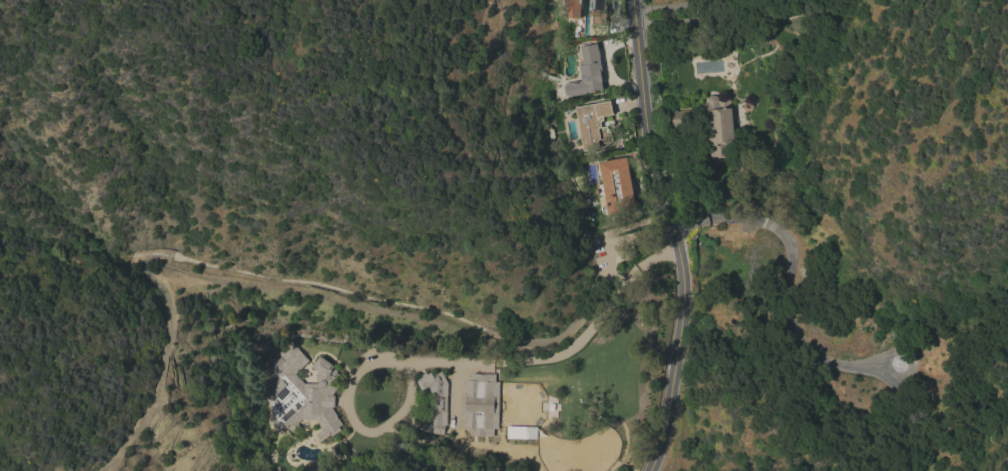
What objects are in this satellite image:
road: (672, 5)
building: (573, 8)
building: (598, 12)
building: (590, 72)
building: (711, 123)
building: (593, 124)
building: (616, 186)
road: (674, 235)
road: (797, 335)
road: (539, 358)
building: (301, 394)
building: (480, 405)
road: (344, 408)
building: (431, 411)
park: (524, 413)
building: (475, 452)
building: (305, 466)

